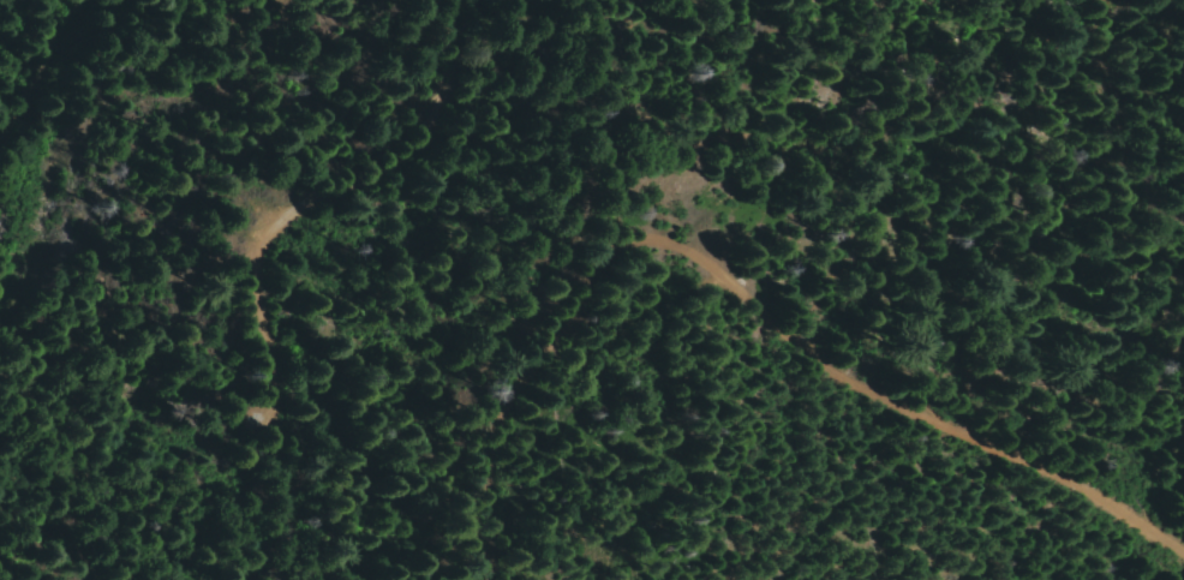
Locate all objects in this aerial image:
road: (1130, 1)
road: (66, 162)
road: (240, 245)
road: (751, 313)

